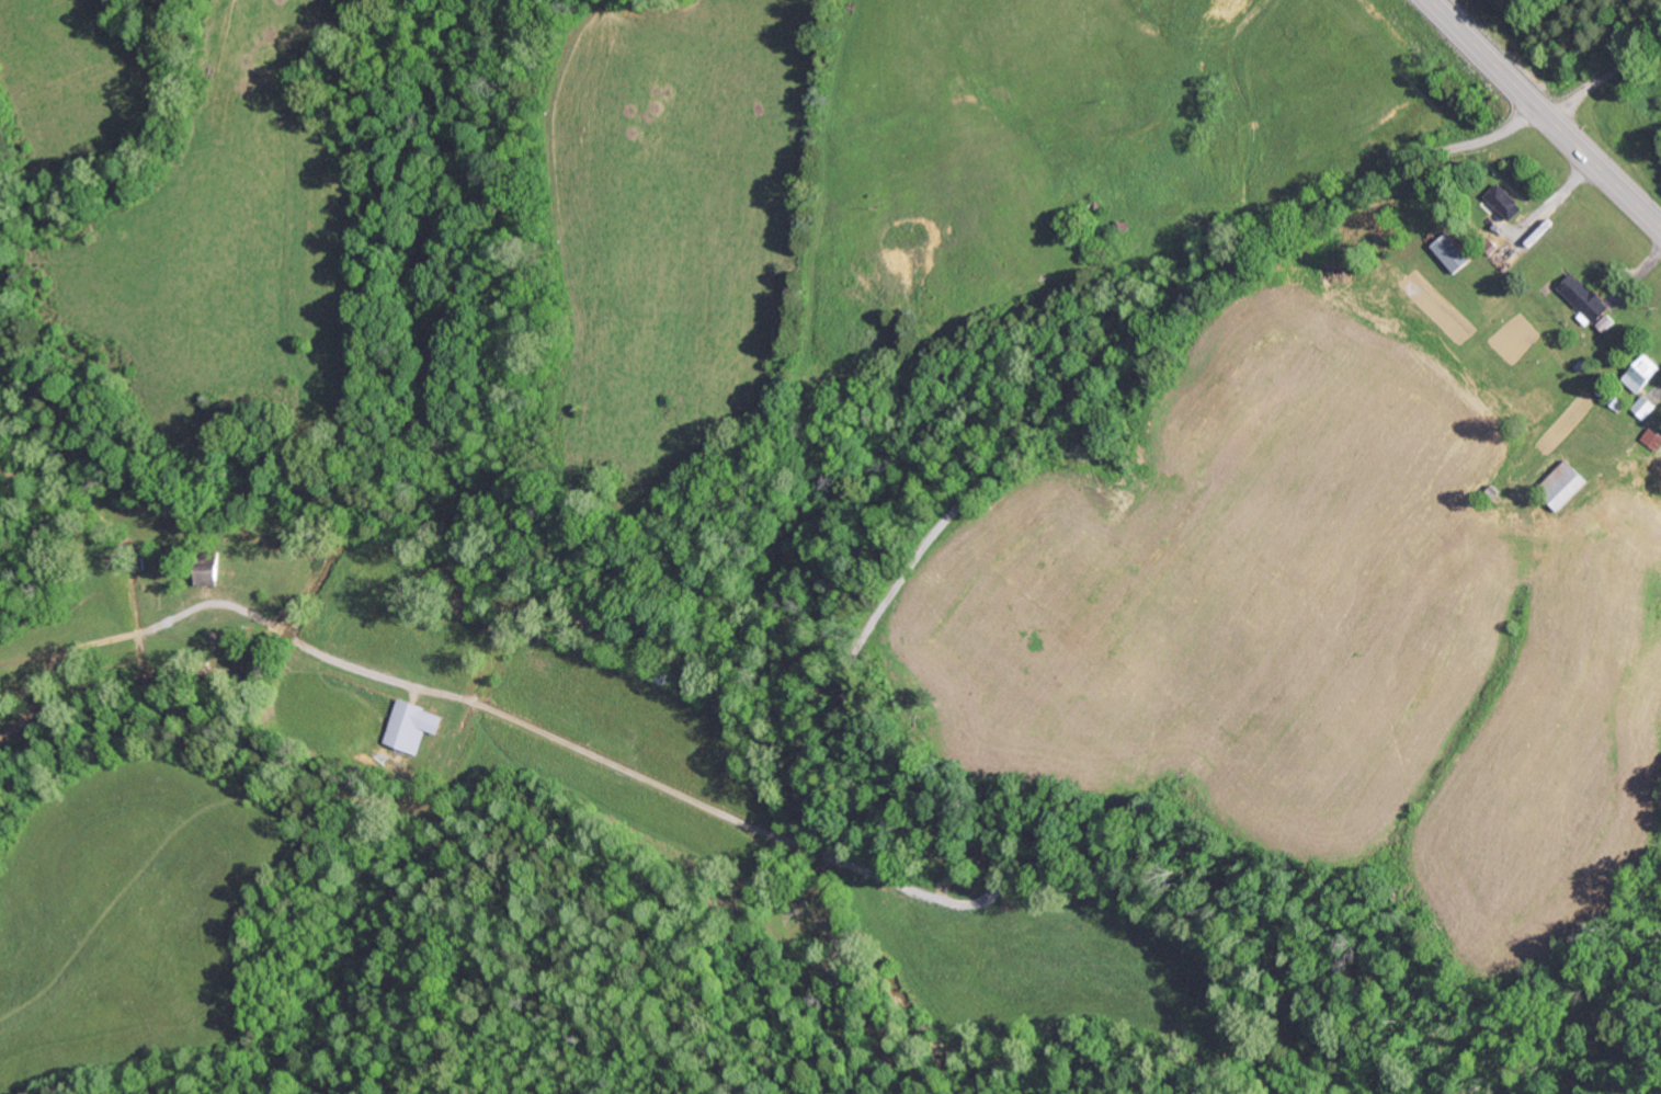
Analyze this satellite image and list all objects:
road: (1602, 80)
road: (1547, 114)
building: (1508, 202)
building: (1455, 252)
building: (1588, 301)
building: (1645, 374)
building: (1648, 407)
building: (1653, 438)
building: (1568, 485)
road: (975, 492)
building: (414, 726)

